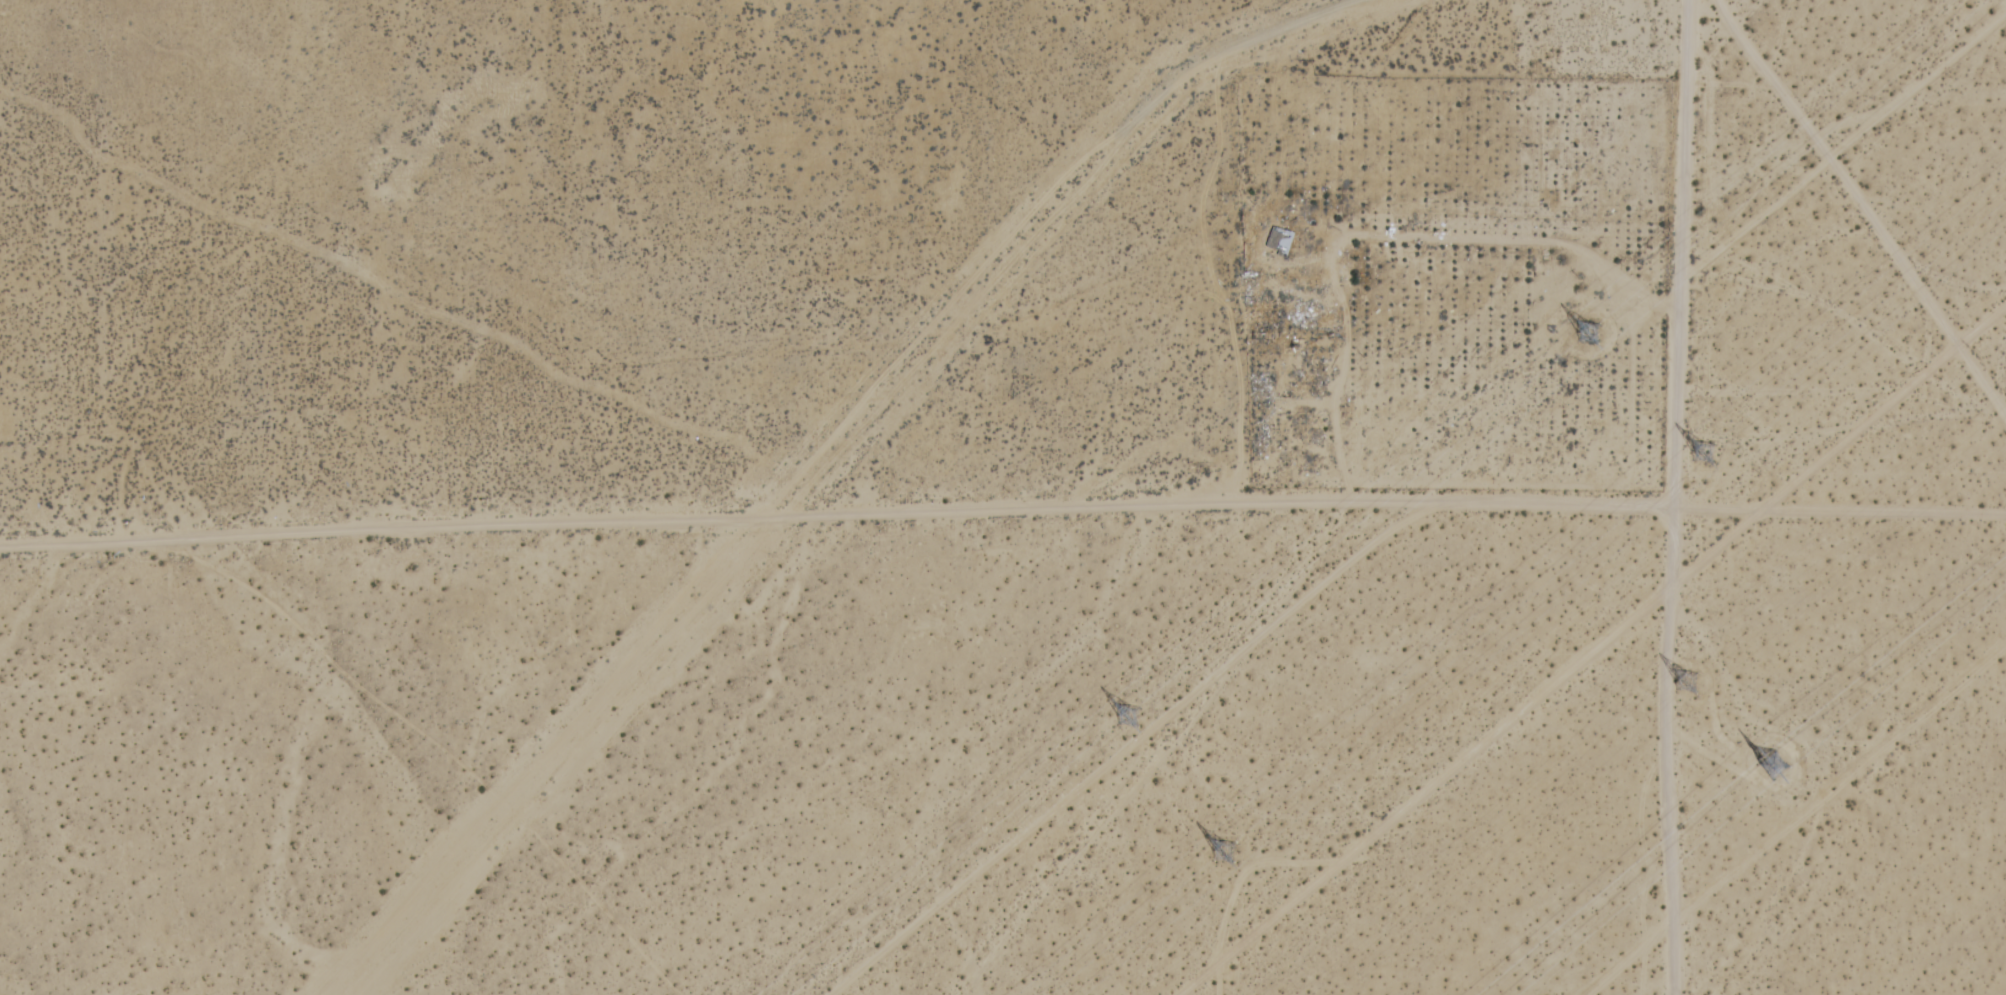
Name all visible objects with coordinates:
road: (1864, 208)
crop: (1451, 283)
power tower: (1601, 333)
power tower: (1711, 455)
road: (1674, 497)
road: (836, 515)
road: (1840, 515)
road: (1590, 648)
power tower: (1690, 676)
power tower: (1131, 715)
power tower: (1776, 761)
power tower: (1229, 840)

